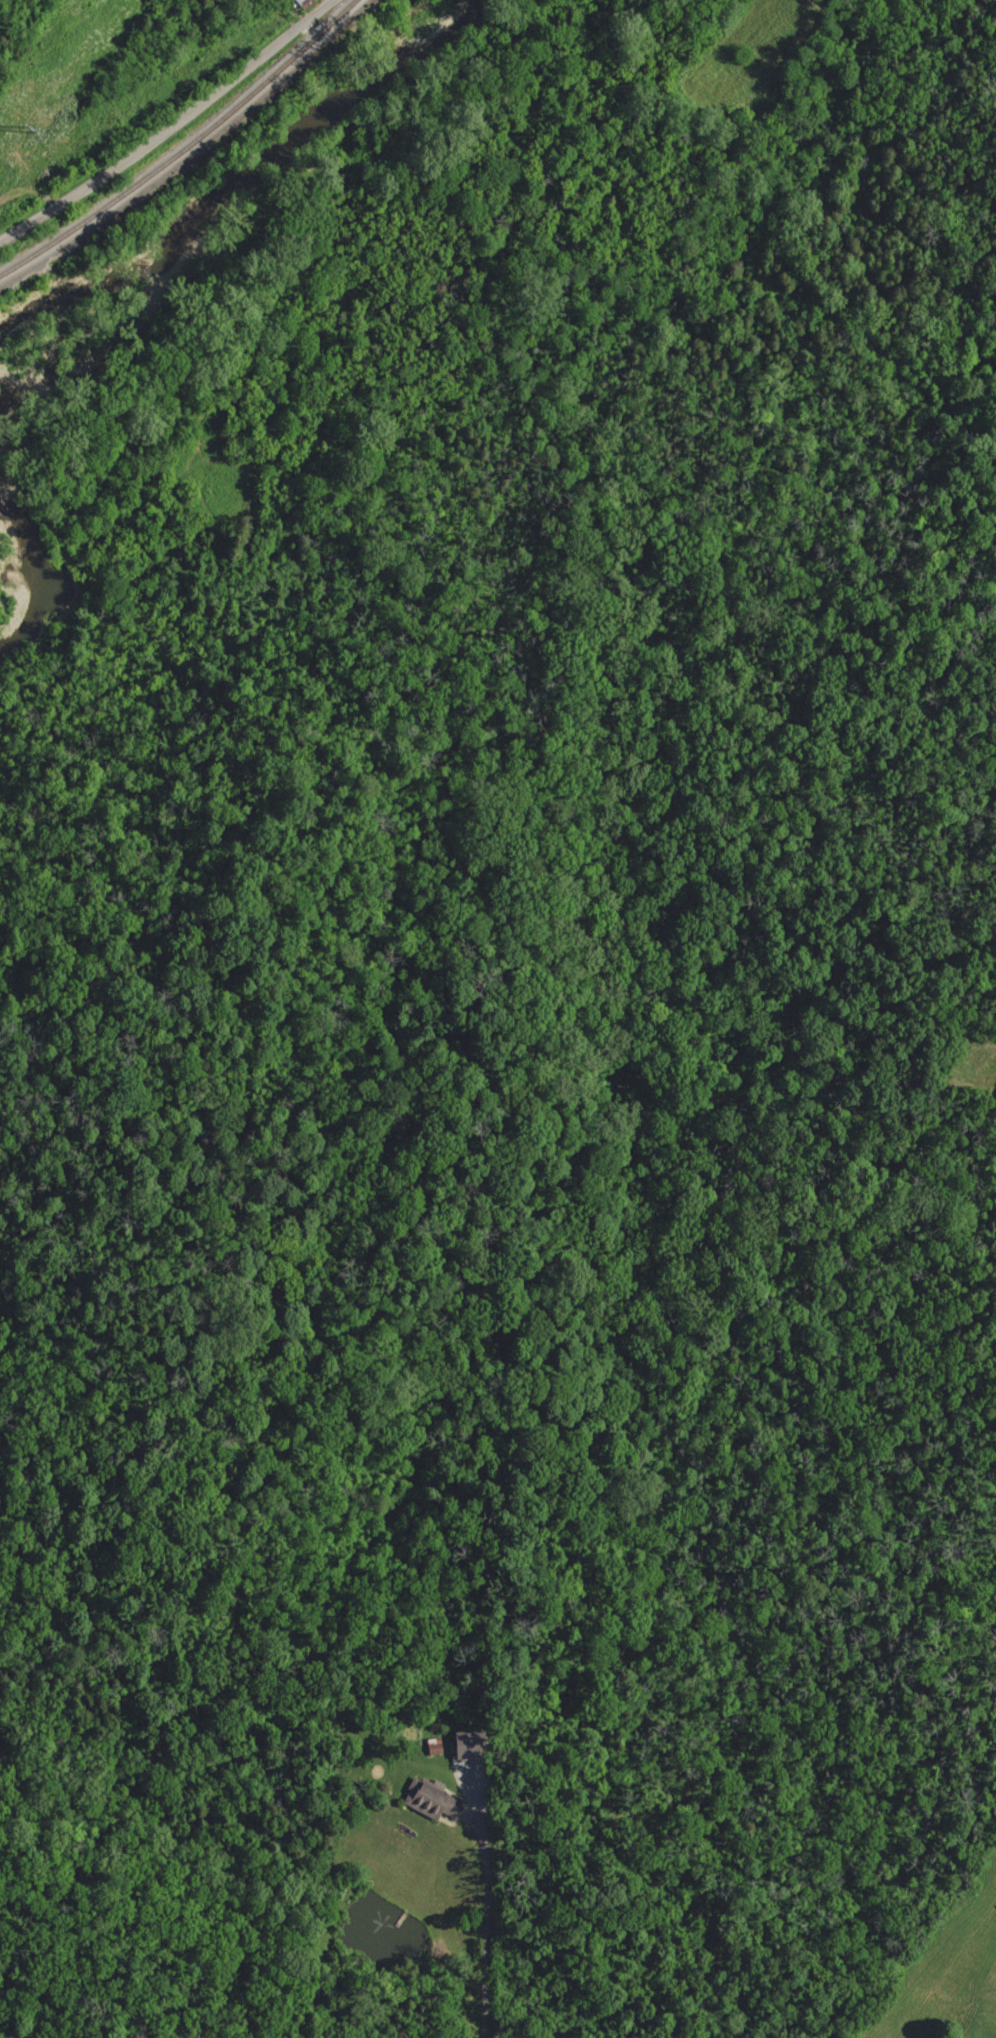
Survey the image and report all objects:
building: (302, 3)
road: (157, 120)
railway: (177, 142)
building: (461, 1745)
building: (431, 1746)
building: (428, 1801)
road: (506, 1917)

